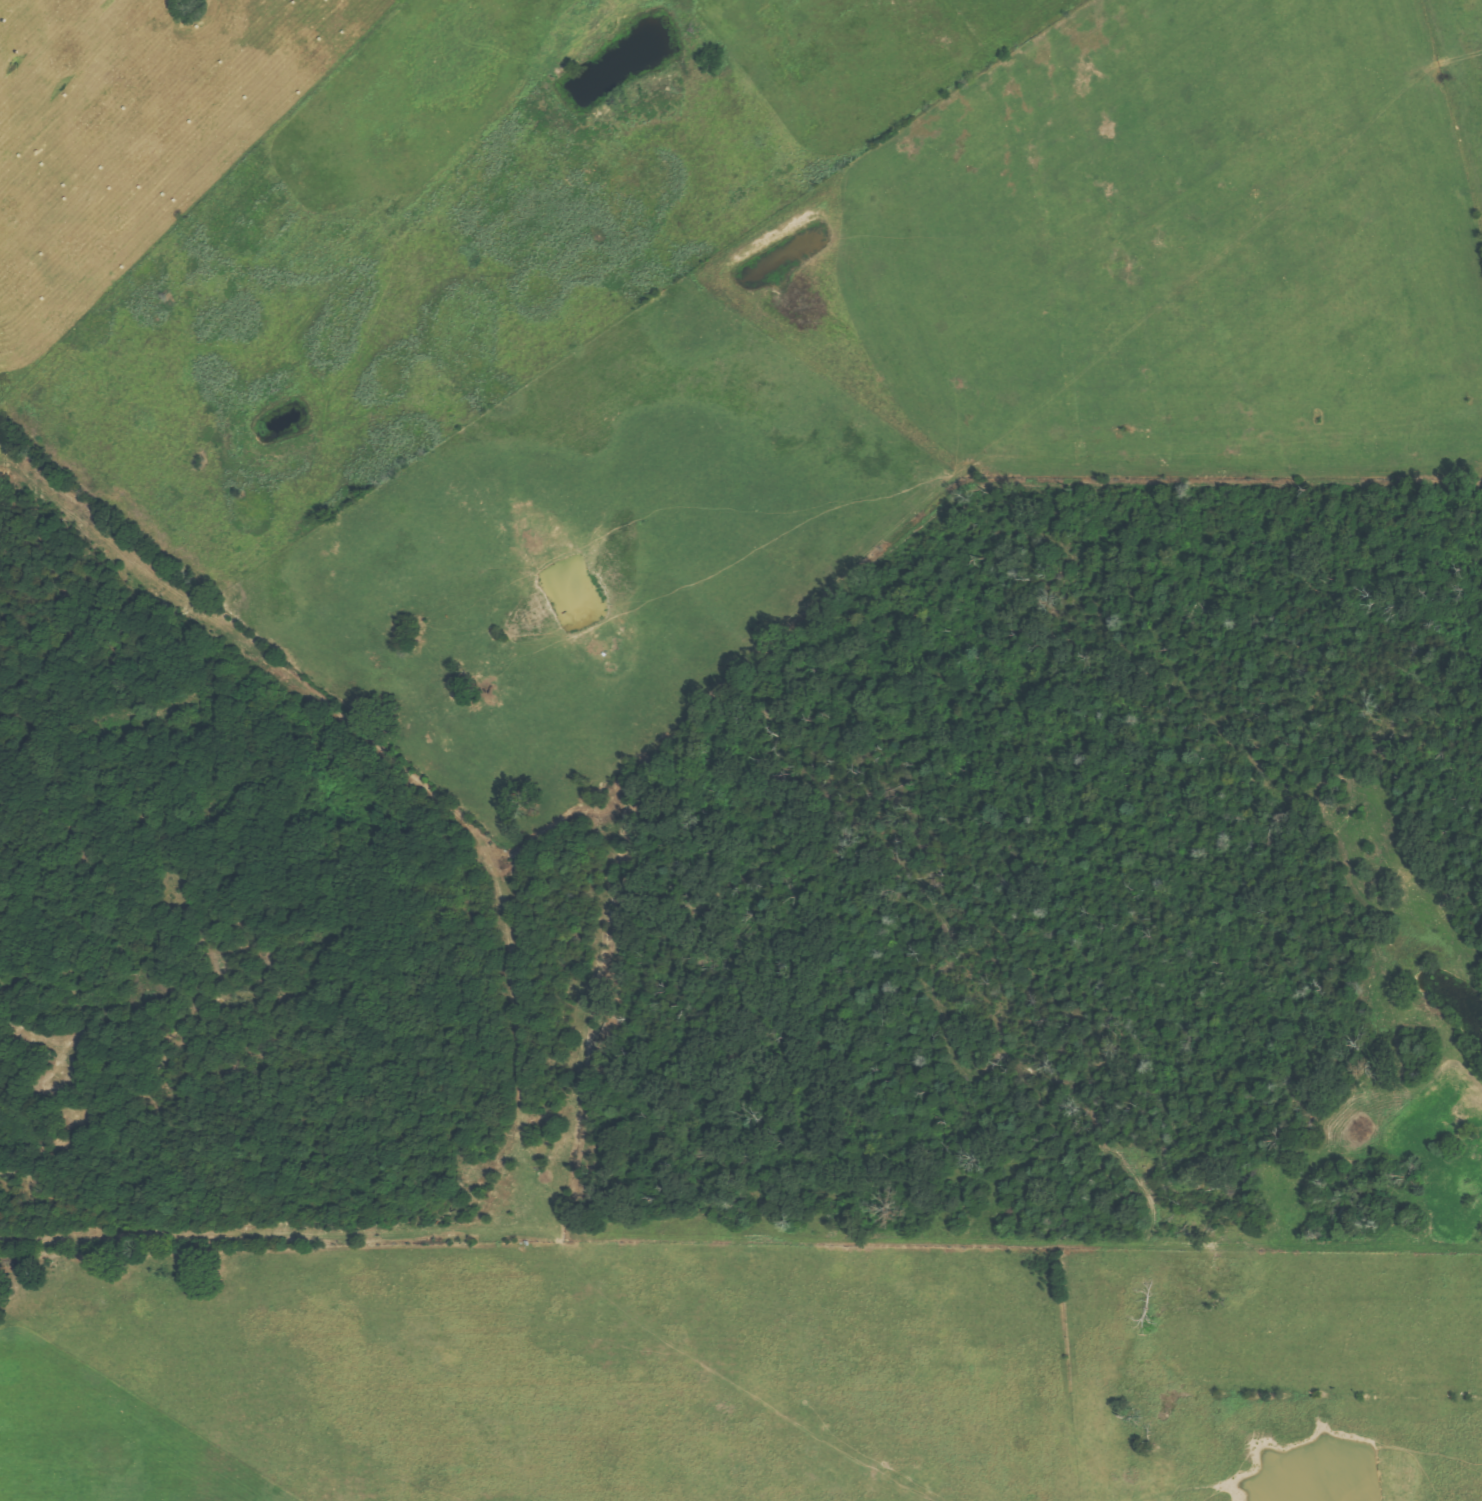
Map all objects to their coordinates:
road: (1455, 391)

